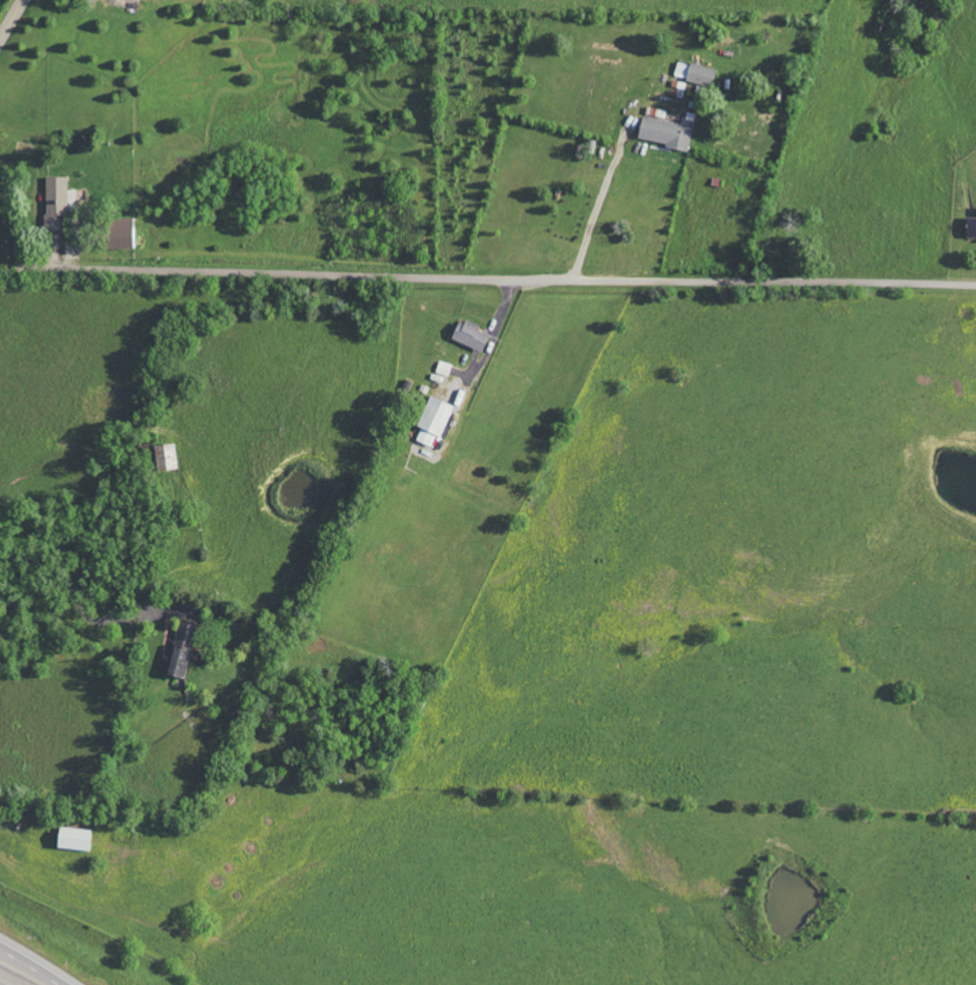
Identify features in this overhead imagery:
road: (11, 19)
building: (694, 73)
building: (664, 132)
building: (57, 201)
road: (595, 211)
building: (970, 227)
building: (119, 234)
road: (487, 274)
building: (467, 335)
road: (493, 341)
building: (431, 421)
building: (160, 456)
road: (79, 610)
building: (179, 649)
building: (71, 838)
road: (33, 964)

